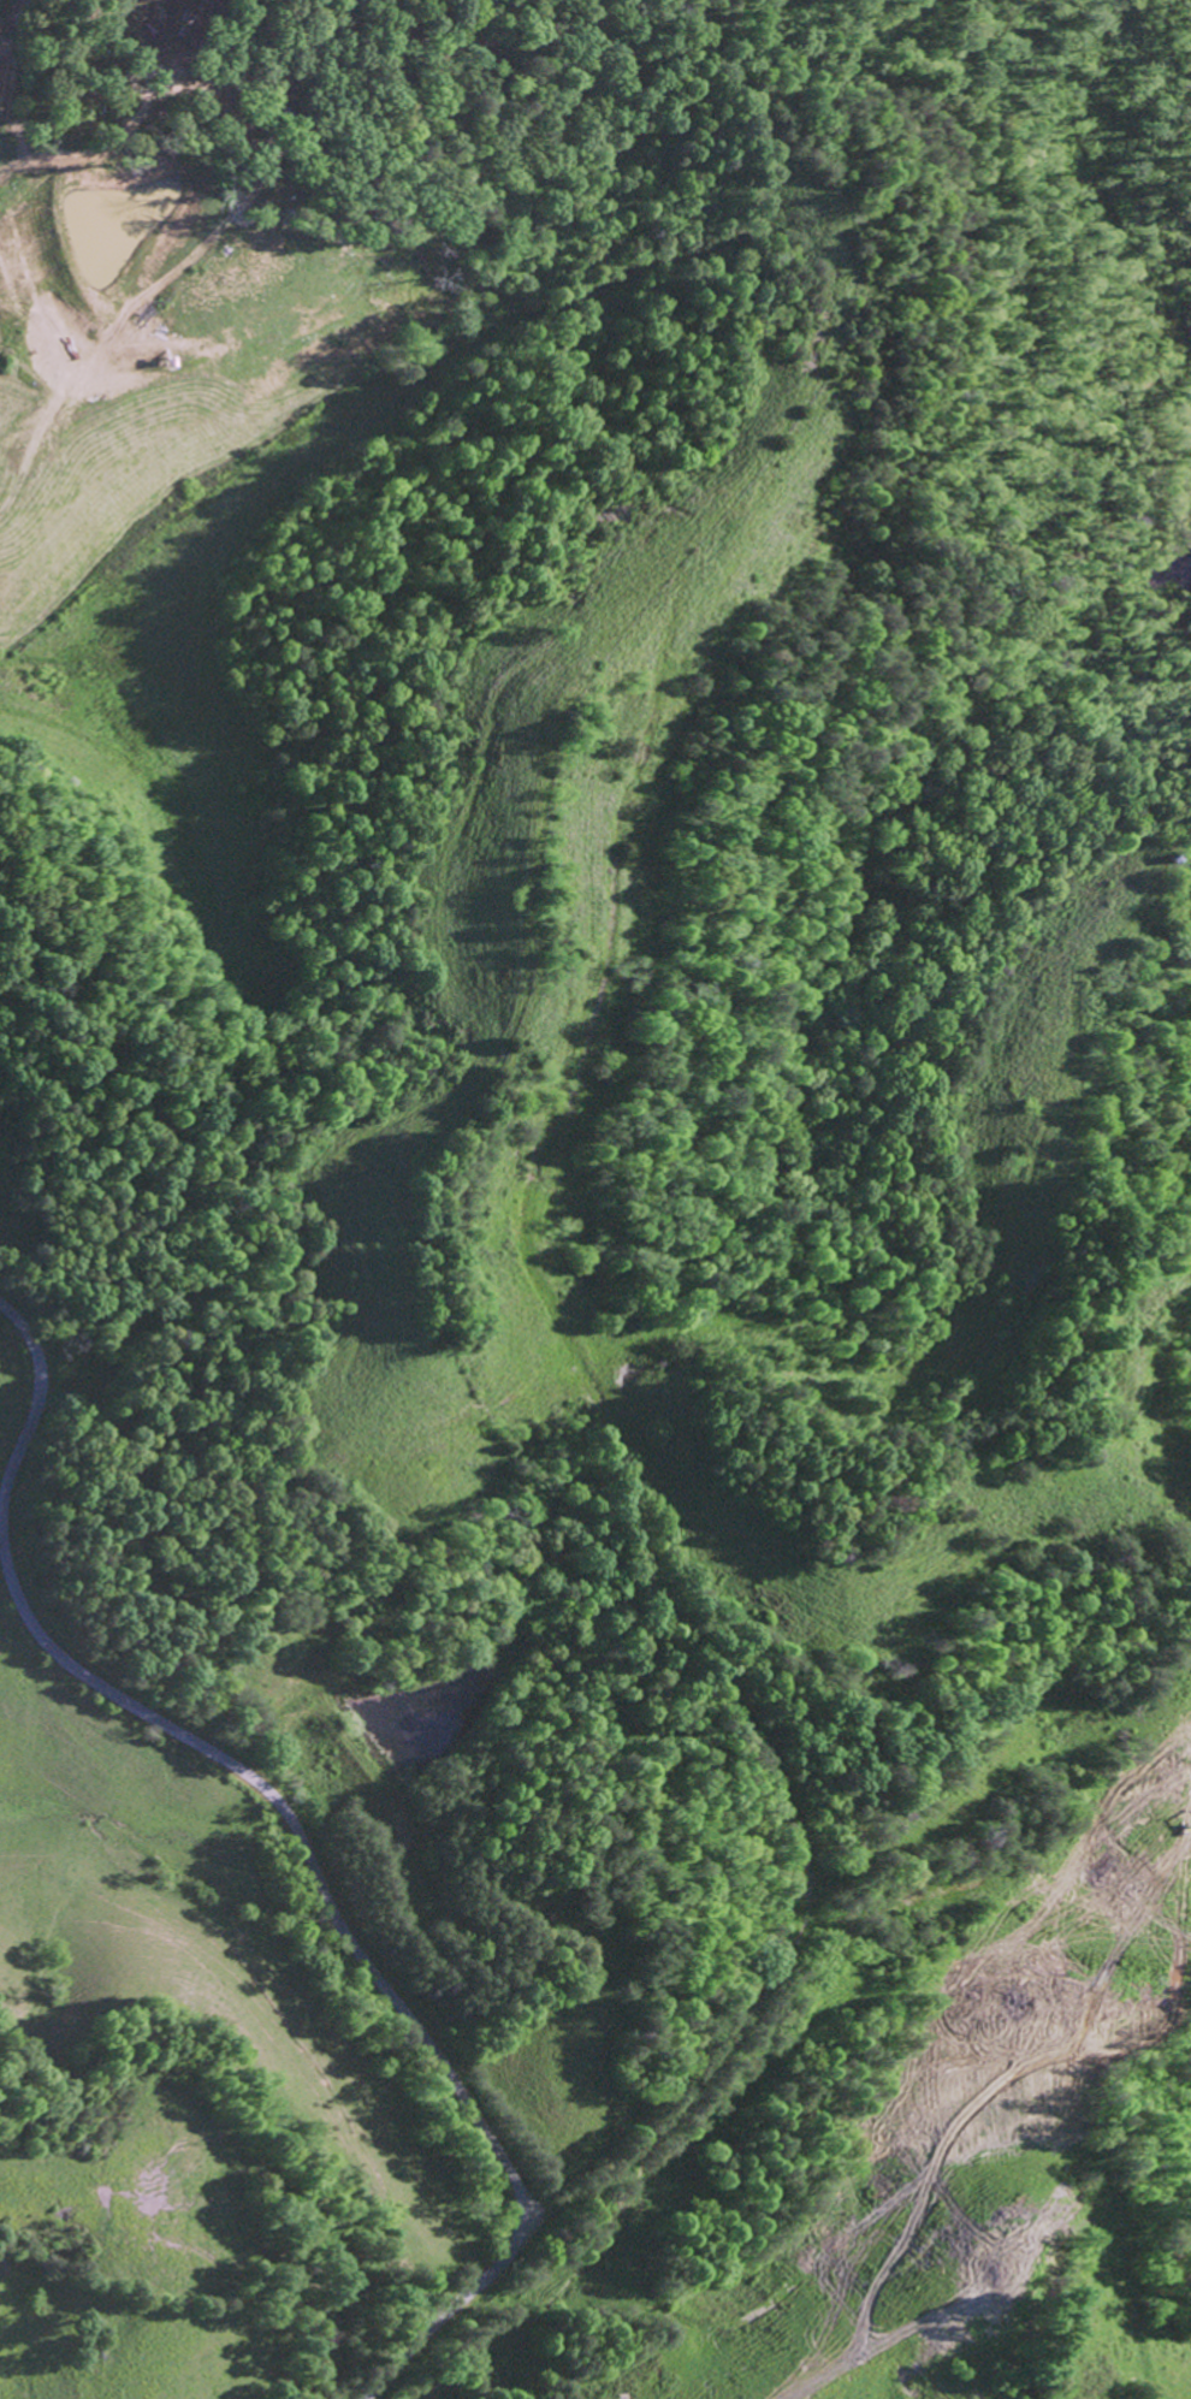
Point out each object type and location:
road: (161, 1719)
road: (814, 1853)
road: (988, 2114)
road: (493, 2270)

